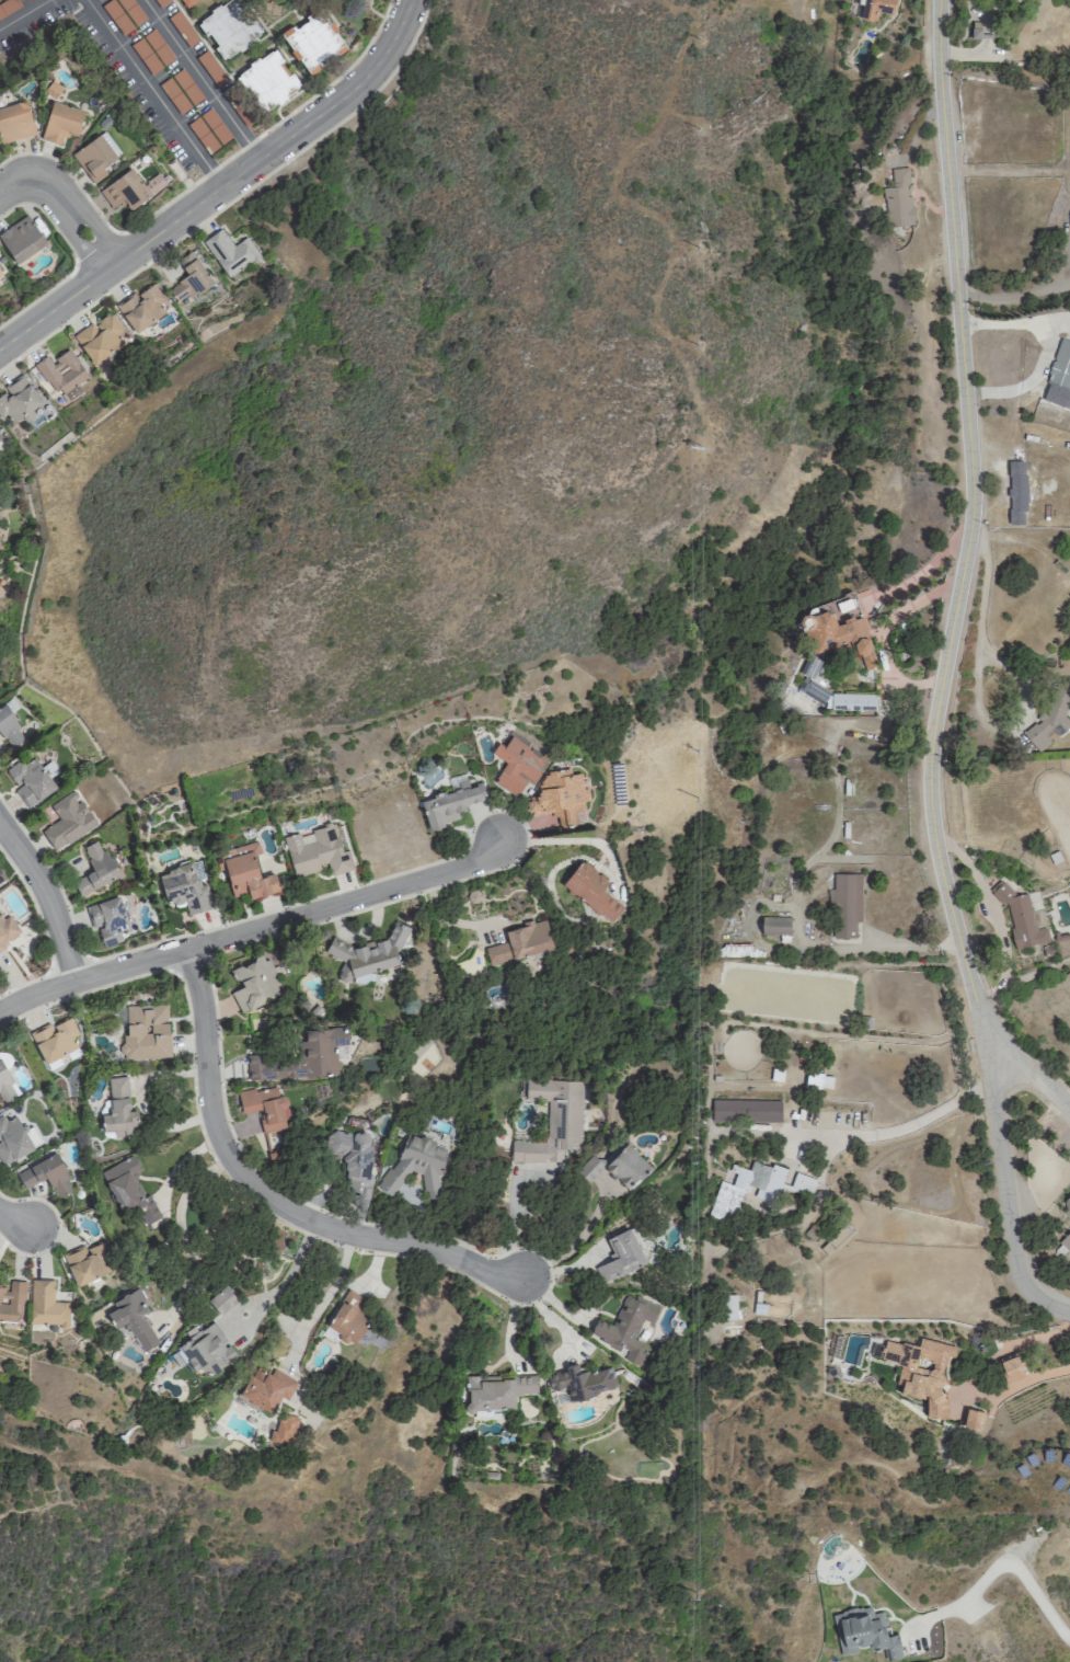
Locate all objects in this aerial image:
building: (1017, 0)
building: (186, 2)
building: (876, 8)
road: (24, 14)
building: (229, 27)
building: (976, 30)
building: (313, 42)
road: (202, 78)
building: (267, 80)
road: (152, 92)
road: (343, 118)
building: (14, 123)
building: (61, 123)
road: (266, 129)
building: (94, 158)
road: (219, 185)
building: (127, 190)
building: (898, 200)
road: (62, 205)
building: (21, 238)
road: (97, 249)
building: (229, 252)
building: (0, 274)
building: (188, 278)
road: (112, 286)
road: (1027, 293)
road: (39, 295)
building: (142, 307)
building: (101, 337)
road: (1042, 351)
building: (57, 374)
building: (1059, 376)
building: (18, 400)
building: (1016, 492)
building: (0, 591)
building: (839, 633)
road: (942, 675)
road: (976, 695)
building: (1046, 721)
building: (10, 729)
building: (516, 765)
building: (28, 780)
building: (557, 794)
building: (449, 804)
building: (67, 821)
road: (577, 839)
building: (317, 851)
building: (95, 869)
building: (248, 872)
building: (1, 878)
building: (184, 887)
building: (590, 890)
road: (47, 896)
building: (845, 904)
building: (108, 919)
building: (775, 925)
building: (8, 930)
road: (254, 932)
building: (520, 941)
building: (367, 953)
building: (253, 983)
building: (146, 1032)
building: (55, 1039)
building: (321, 1050)
road: (1021, 1062)
building: (5, 1084)
building: (119, 1109)
building: (265, 1111)
building: (552, 1121)
road: (897, 1128)
building: (12, 1139)
building: (353, 1158)
building: (415, 1165)
building: (615, 1165)
building: (46, 1173)
building: (128, 1188)
building: (729, 1191)
road: (273, 1197)
building: (1066, 1210)
road: (12, 1219)
road: (184, 1235)
road: (579, 1238)
building: (837, 1238)
building: (1067, 1239)
building: (620, 1254)
building: (88, 1262)
road: (286, 1276)
building: (221, 1299)
road: (322, 1299)
building: (11, 1302)
building: (46, 1305)
building: (727, 1306)
building: (347, 1317)
building: (131, 1318)
road: (549, 1318)
building: (625, 1328)
building: (205, 1349)
building: (1011, 1367)
building: (921, 1369)
building: (580, 1380)
building: (266, 1388)
building: (497, 1391)
building: (973, 1418)
building: (285, 1429)
road: (1003, 1566)
building: (863, 1631)

